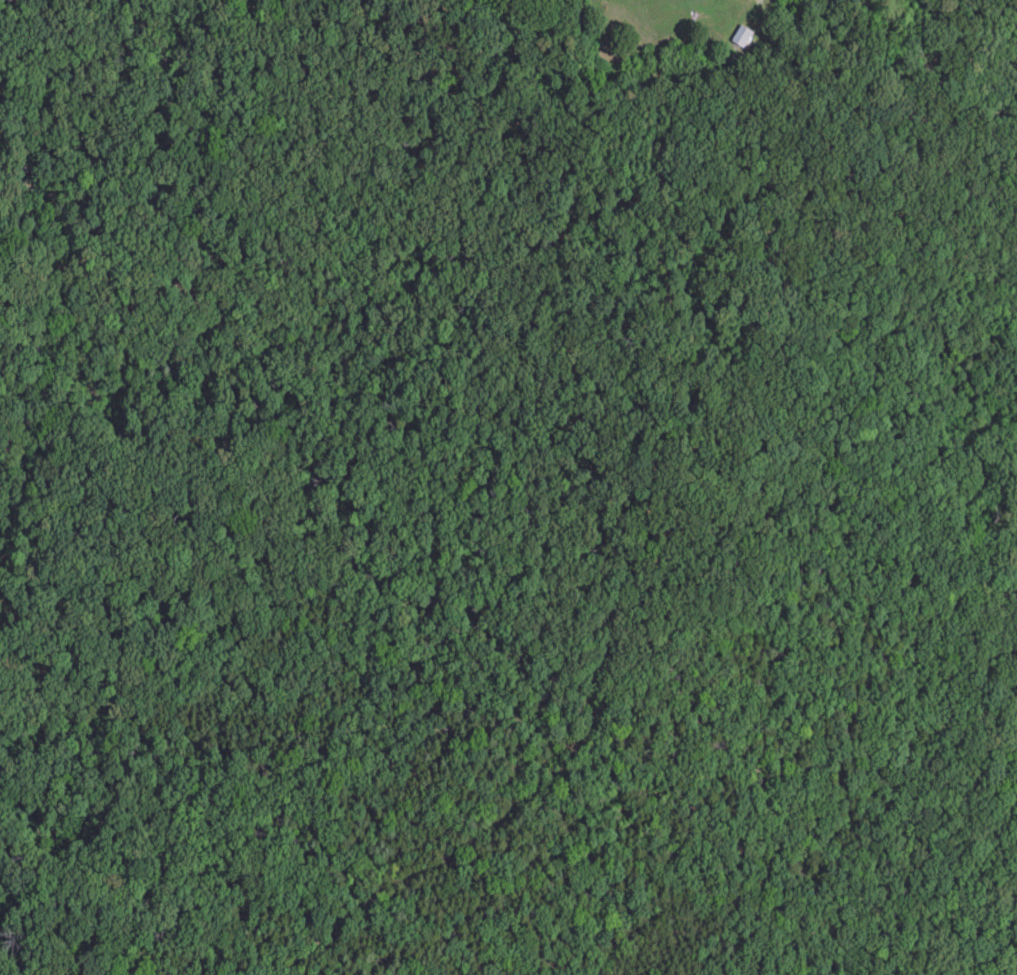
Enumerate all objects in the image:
building: (744, 36)

